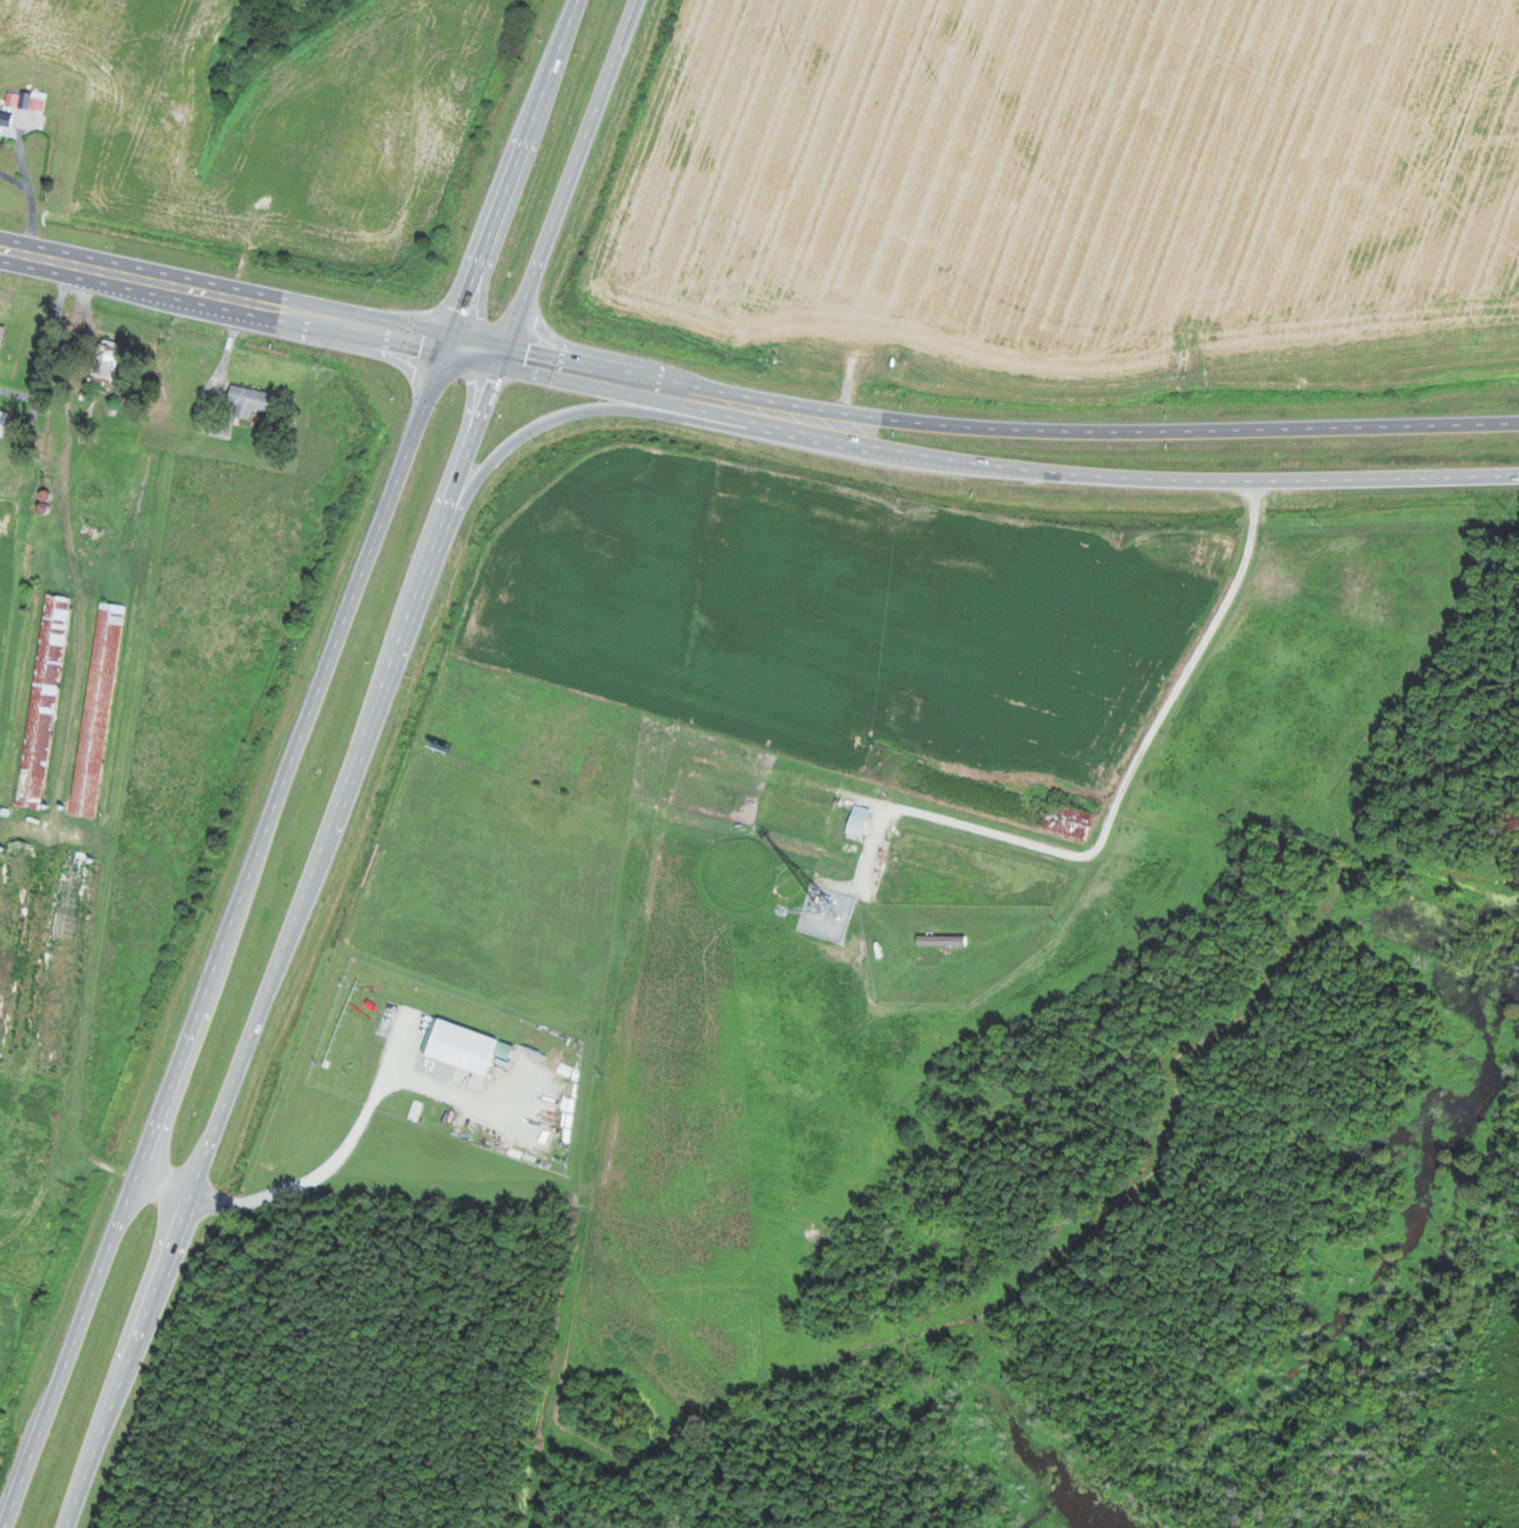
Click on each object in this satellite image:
building: (6, 119)
road: (20, 150)
road: (516, 172)
road: (572, 178)
road: (32, 206)
road: (404, 225)
road: (223, 296)
traffic signals: (461, 310)
building: (2, 334)
traffic signals: (423, 339)
building: (107, 360)
traffic signals: (524, 361)
road: (562, 368)
traffic signals: (494, 380)
building: (247, 401)
road: (201, 405)
road: (580, 410)
building: (7, 421)
road: (1097, 430)
road: (468, 447)
road: (1093, 473)
building: (4, 504)
building: (89, 534)
road: (72, 554)
building: (44, 701)
building: (98, 709)
road: (117, 808)
building: (1064, 819)
building: (857, 826)
road: (1081, 855)
building: (11, 924)
road: (225, 935)
building: (942, 940)
building: (62, 956)
road: (250, 1033)
building: (460, 1047)
road: (607, 1116)
road: (315, 1177)

